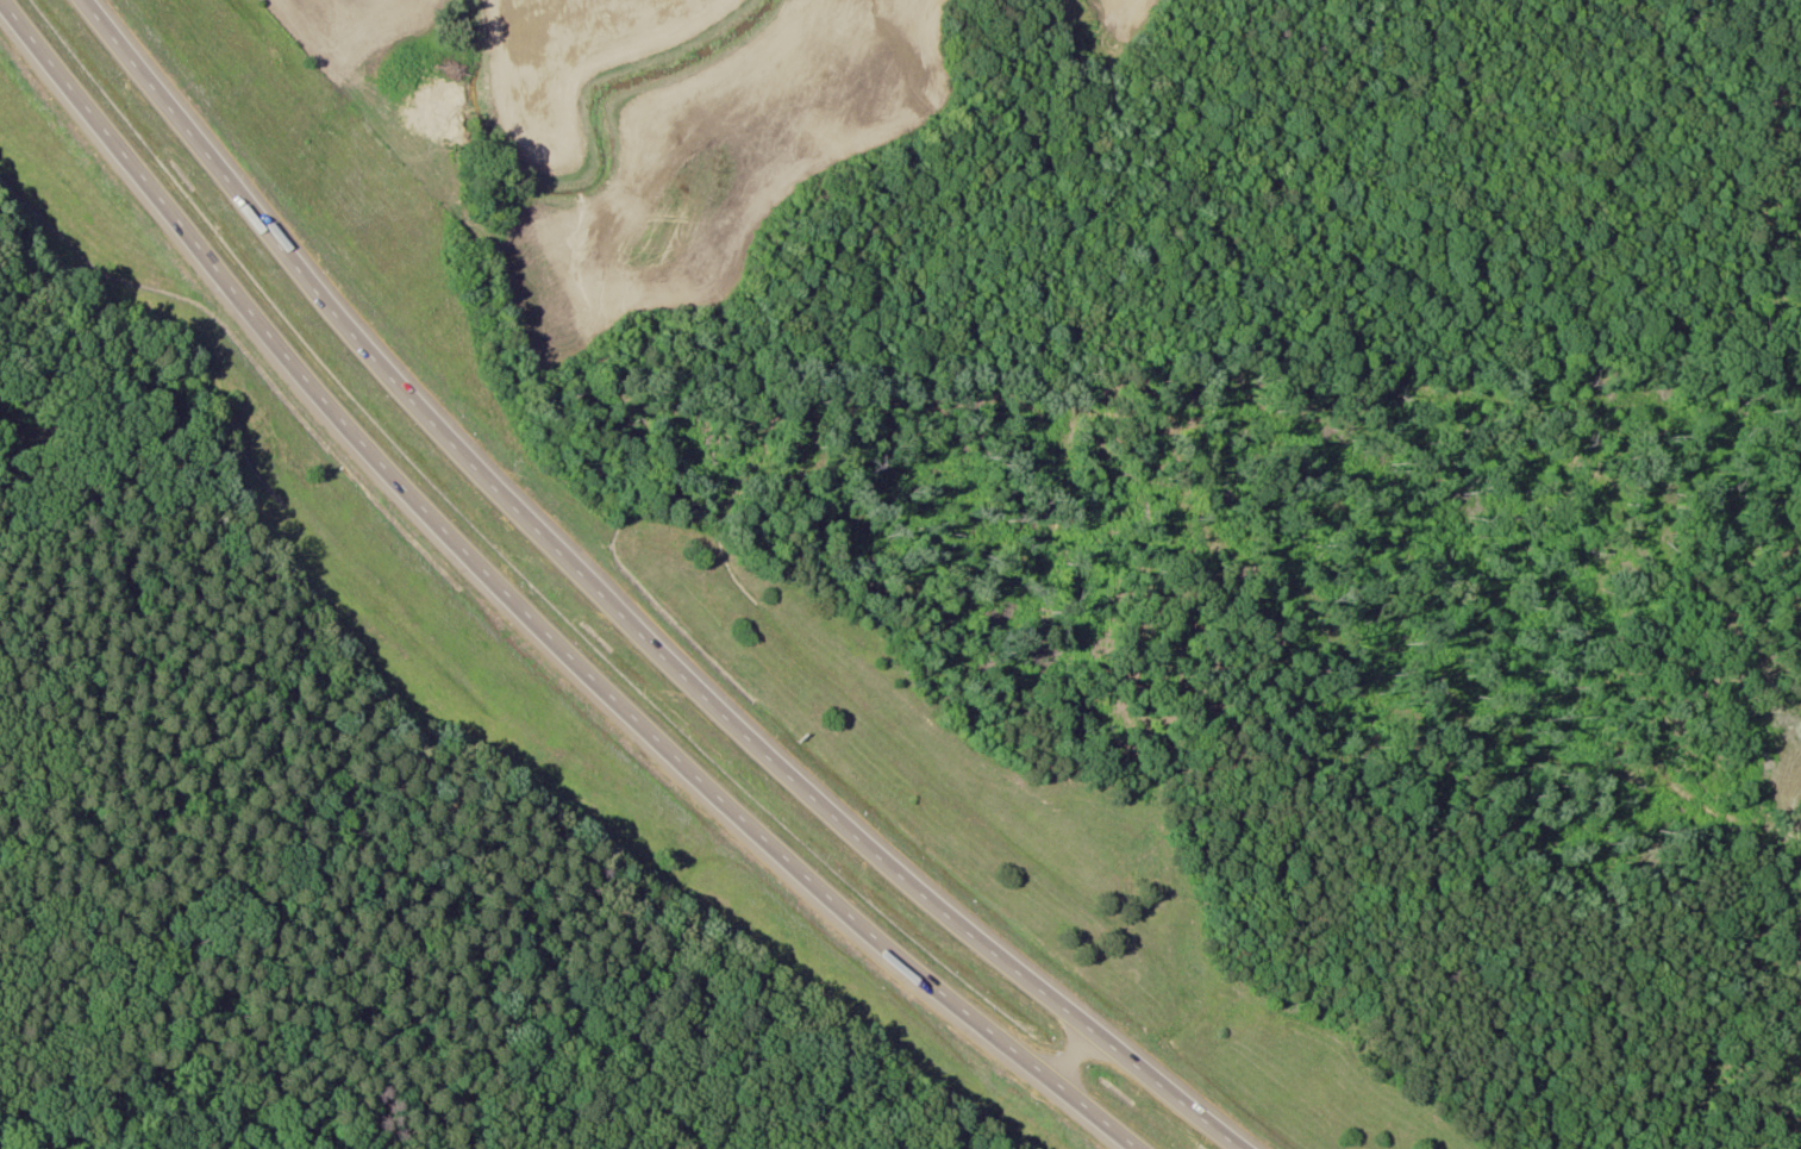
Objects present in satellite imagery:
road: (534, 613)
road: (617, 618)

